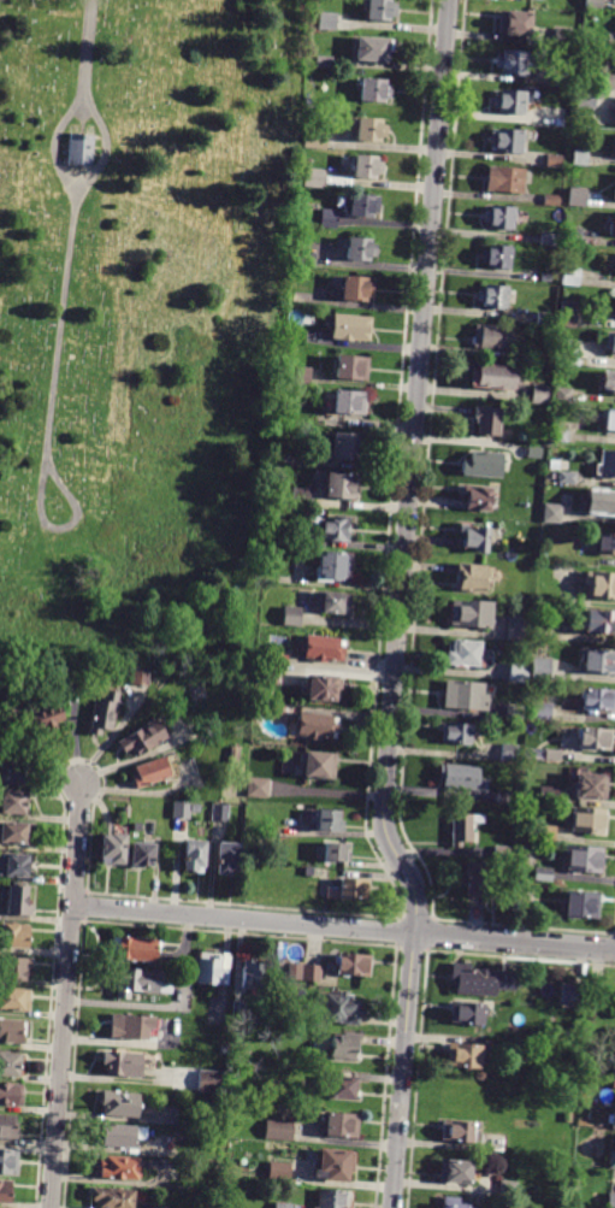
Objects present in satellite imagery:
building: (595, 4)
building: (379, 10)
building: (329, 20)
building: (515, 22)
building: (563, 37)
building: (372, 49)
road: (87, 51)
building: (325, 61)
building: (513, 61)
building: (608, 81)
building: (562, 83)
building: (374, 92)
building: (586, 99)
building: (509, 101)
building: (369, 128)
building: (307, 137)
building: (504, 140)
building: (320, 141)
road: (55, 147)
building: (81, 147)
road: (105, 151)
building: (579, 157)
building: (554, 161)
building: (367, 166)
building: (314, 177)
building: (505, 178)
building: (614, 193)
building: (576, 196)
building: (552, 200)
building: (363, 206)
building: (314, 211)
building: (329, 217)
building: (501, 218)
building: (611, 228)
building: (573, 236)
building: (549, 240)
building: (359, 248)
building: (496, 257)
building: (306, 259)
building: (570, 276)
building: (546, 277)
building: (356, 289)
building: (306, 294)
building: (492, 296)
building: (568, 313)
building: (614, 314)
building: (546, 318)
park: (142, 323)
building: (350, 326)
building: (493, 337)
building: (610, 342)
building: (568, 354)
building: (543, 356)
building: (351, 367)
building: (303, 376)
building: (492, 376)
building: (608, 379)
building: (540, 394)
building: (562, 395)
building: (349, 401)
road: (49, 408)
building: (609, 419)
building: (487, 420)
building: (560, 436)
building: (344, 446)
building: (534, 452)
building: (284, 458)
building: (483, 464)
building: (607, 464)
building: (566, 477)
building: (342, 485)
building: (478, 496)
building: (298, 497)
building: (601, 501)
building: (551, 513)
building: (332, 529)
building: (475, 537)
building: (297, 540)
building: (604, 543)
building: (271, 550)
building: (335, 565)
building: (473, 578)
building: (601, 584)
building: (332, 602)
road: (400, 607)
building: (471, 614)
building: (292, 617)
building: (599, 621)
building: (519, 629)
building: (323, 648)
building: (466, 654)
building: (279, 659)
building: (599, 661)
building: (540, 668)
building: (519, 673)
building: (270, 674)
building: (140, 676)
building: (64, 684)
building: (323, 687)
building: (201, 689)
building: (266, 694)
building: (465, 695)
building: (598, 699)
building: (274, 711)
building: (540, 711)
building: (104, 713)
building: (514, 714)
building: (47, 715)
building: (317, 726)
building: (456, 733)
building: (142, 738)
building: (596, 738)
building: (510, 753)
building: (235, 754)
building: (552, 755)
building: (318, 765)
building: (11, 772)
building: (150, 772)
building: (460, 777)
building: (591, 786)
building: (258, 788)
building: (549, 794)
building: (505, 797)
building: (12, 802)
building: (181, 811)
building: (125, 812)
building: (220, 812)
building: (327, 820)
building: (589, 820)
building: (465, 827)
building: (14, 833)
building: (548, 833)
building: (254, 838)
building: (111, 845)
building: (502, 852)
building: (336, 853)
building: (141, 855)
building: (194, 855)
building: (225, 858)
building: (584, 859)
building: (13, 865)
building: (543, 874)
building: (478, 880)
building: (354, 889)
building: (524, 892)
building: (17, 902)
building: (581, 906)
road: (343, 927)
building: (14, 936)
building: (134, 949)
building: (354, 965)
building: (13, 968)
building: (213, 970)
building: (297, 971)
building: (313, 973)
building: (252, 974)
building: (474, 980)
building: (140, 983)
road: (65, 995)
building: (596, 998)
building: (13, 1000)
building: (567, 1001)
building: (578, 1002)
building: (238, 1009)
building: (343, 1009)
building: (467, 1014)
building: (130, 1027)
building: (10, 1032)
building: (345, 1045)
building: (465, 1056)
building: (123, 1063)
building: (10, 1066)
building: (613, 1080)
building: (211, 1082)
building: (342, 1086)
building: (11, 1094)
building: (119, 1103)
building: (568, 1118)
building: (614, 1120)
building: (339, 1125)
building: (7, 1129)
building: (278, 1131)
building: (457, 1132)
building: (122, 1136)
building: (611, 1160)
building: (7, 1162)
building: (332, 1167)
building: (119, 1168)
building: (278, 1171)
building: (454, 1171)
building: (508, 1190)
building: (4, 1192)
building: (112, 1198)
building: (333, 1198)
building: (610, 1201)
building: (451, 1203)
building: (283, 1206)

